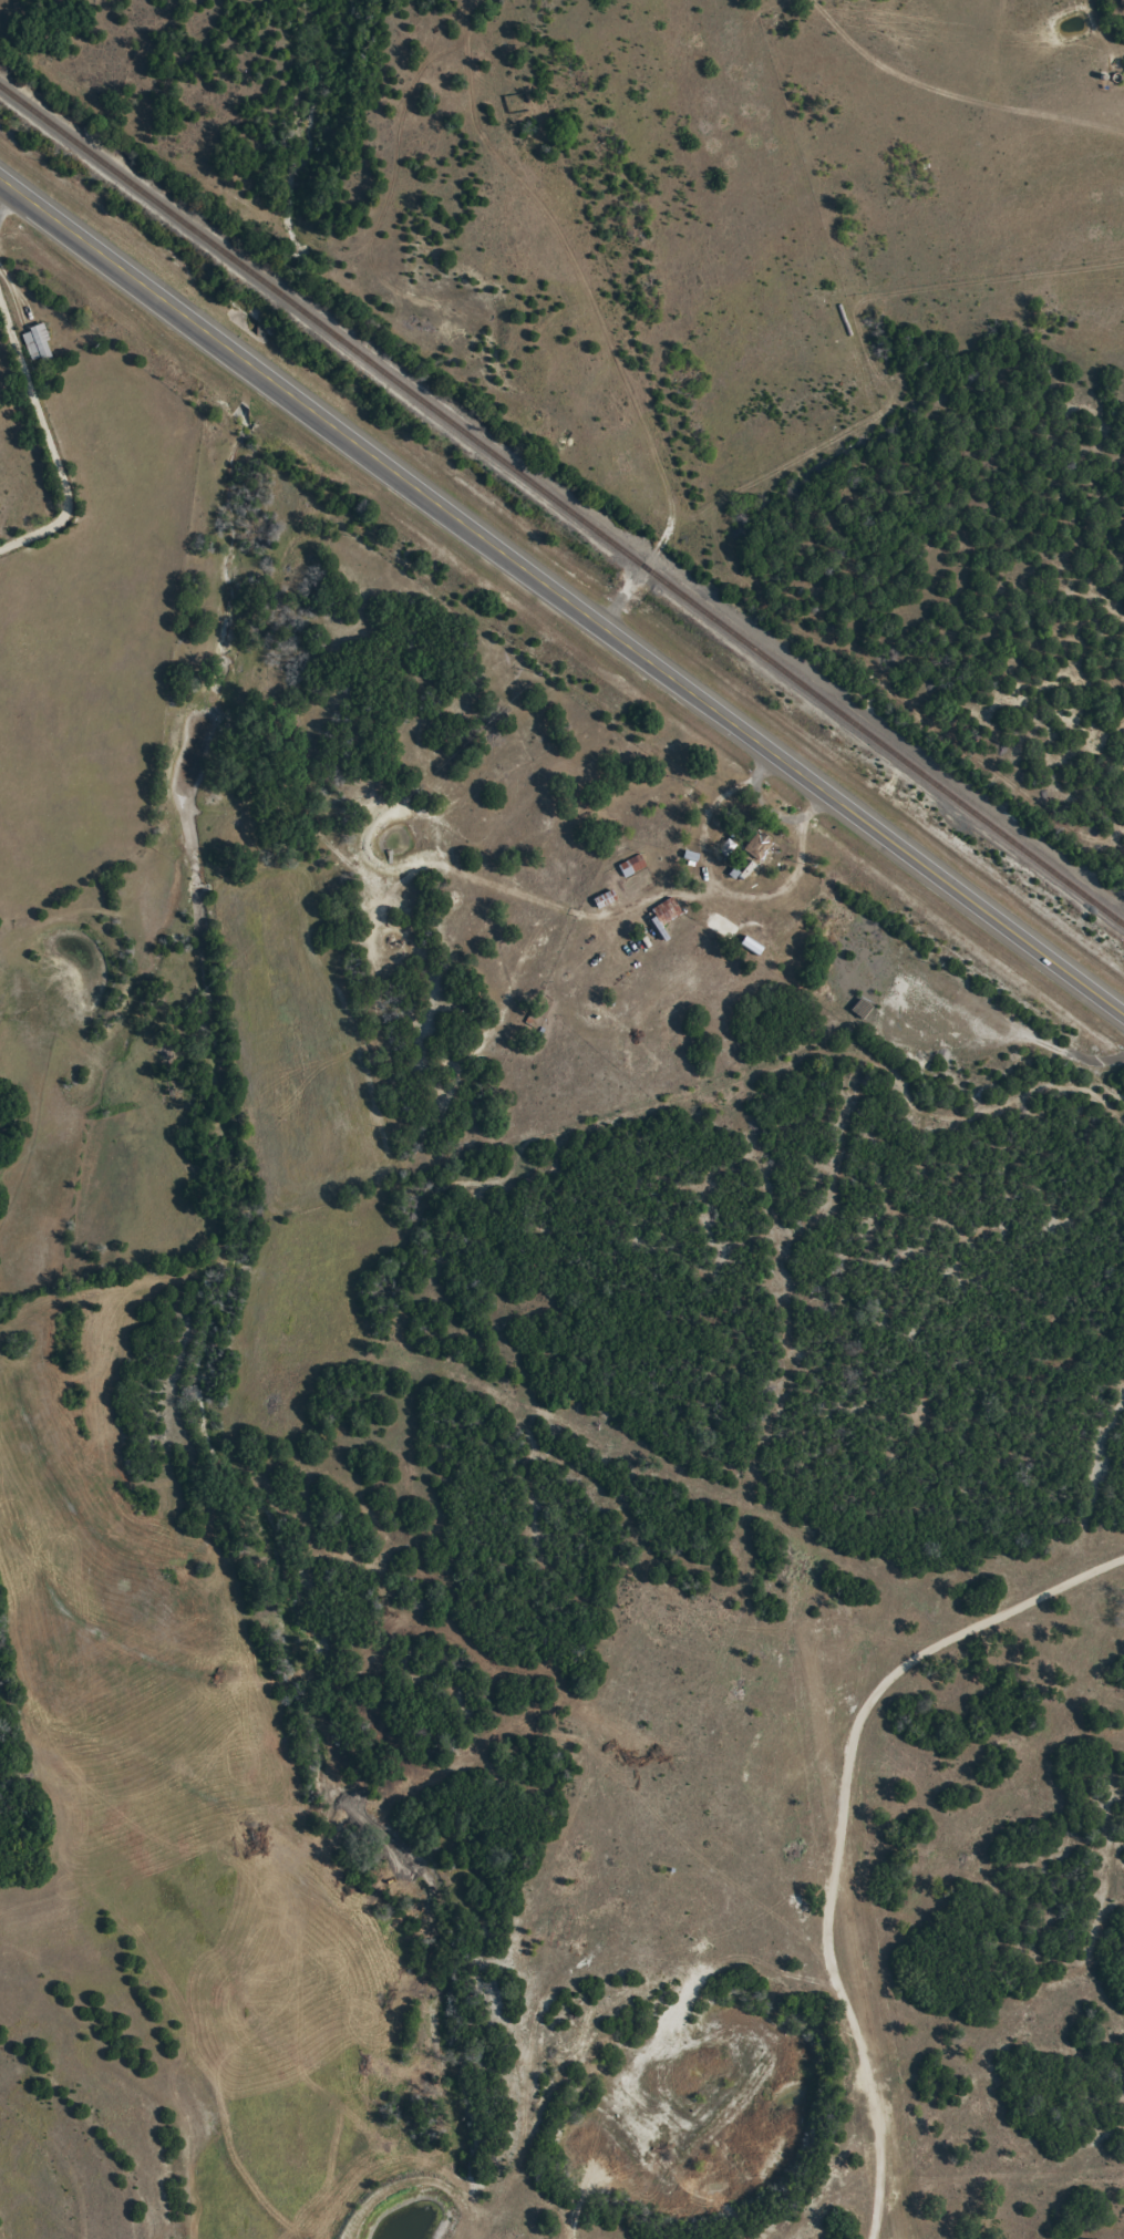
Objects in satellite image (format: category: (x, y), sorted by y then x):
road: (601, 316)
building: (38, 343)
road: (48, 394)
railway: (561, 505)
road: (560, 595)
building: (760, 847)
building: (631, 869)
building: (667, 910)

